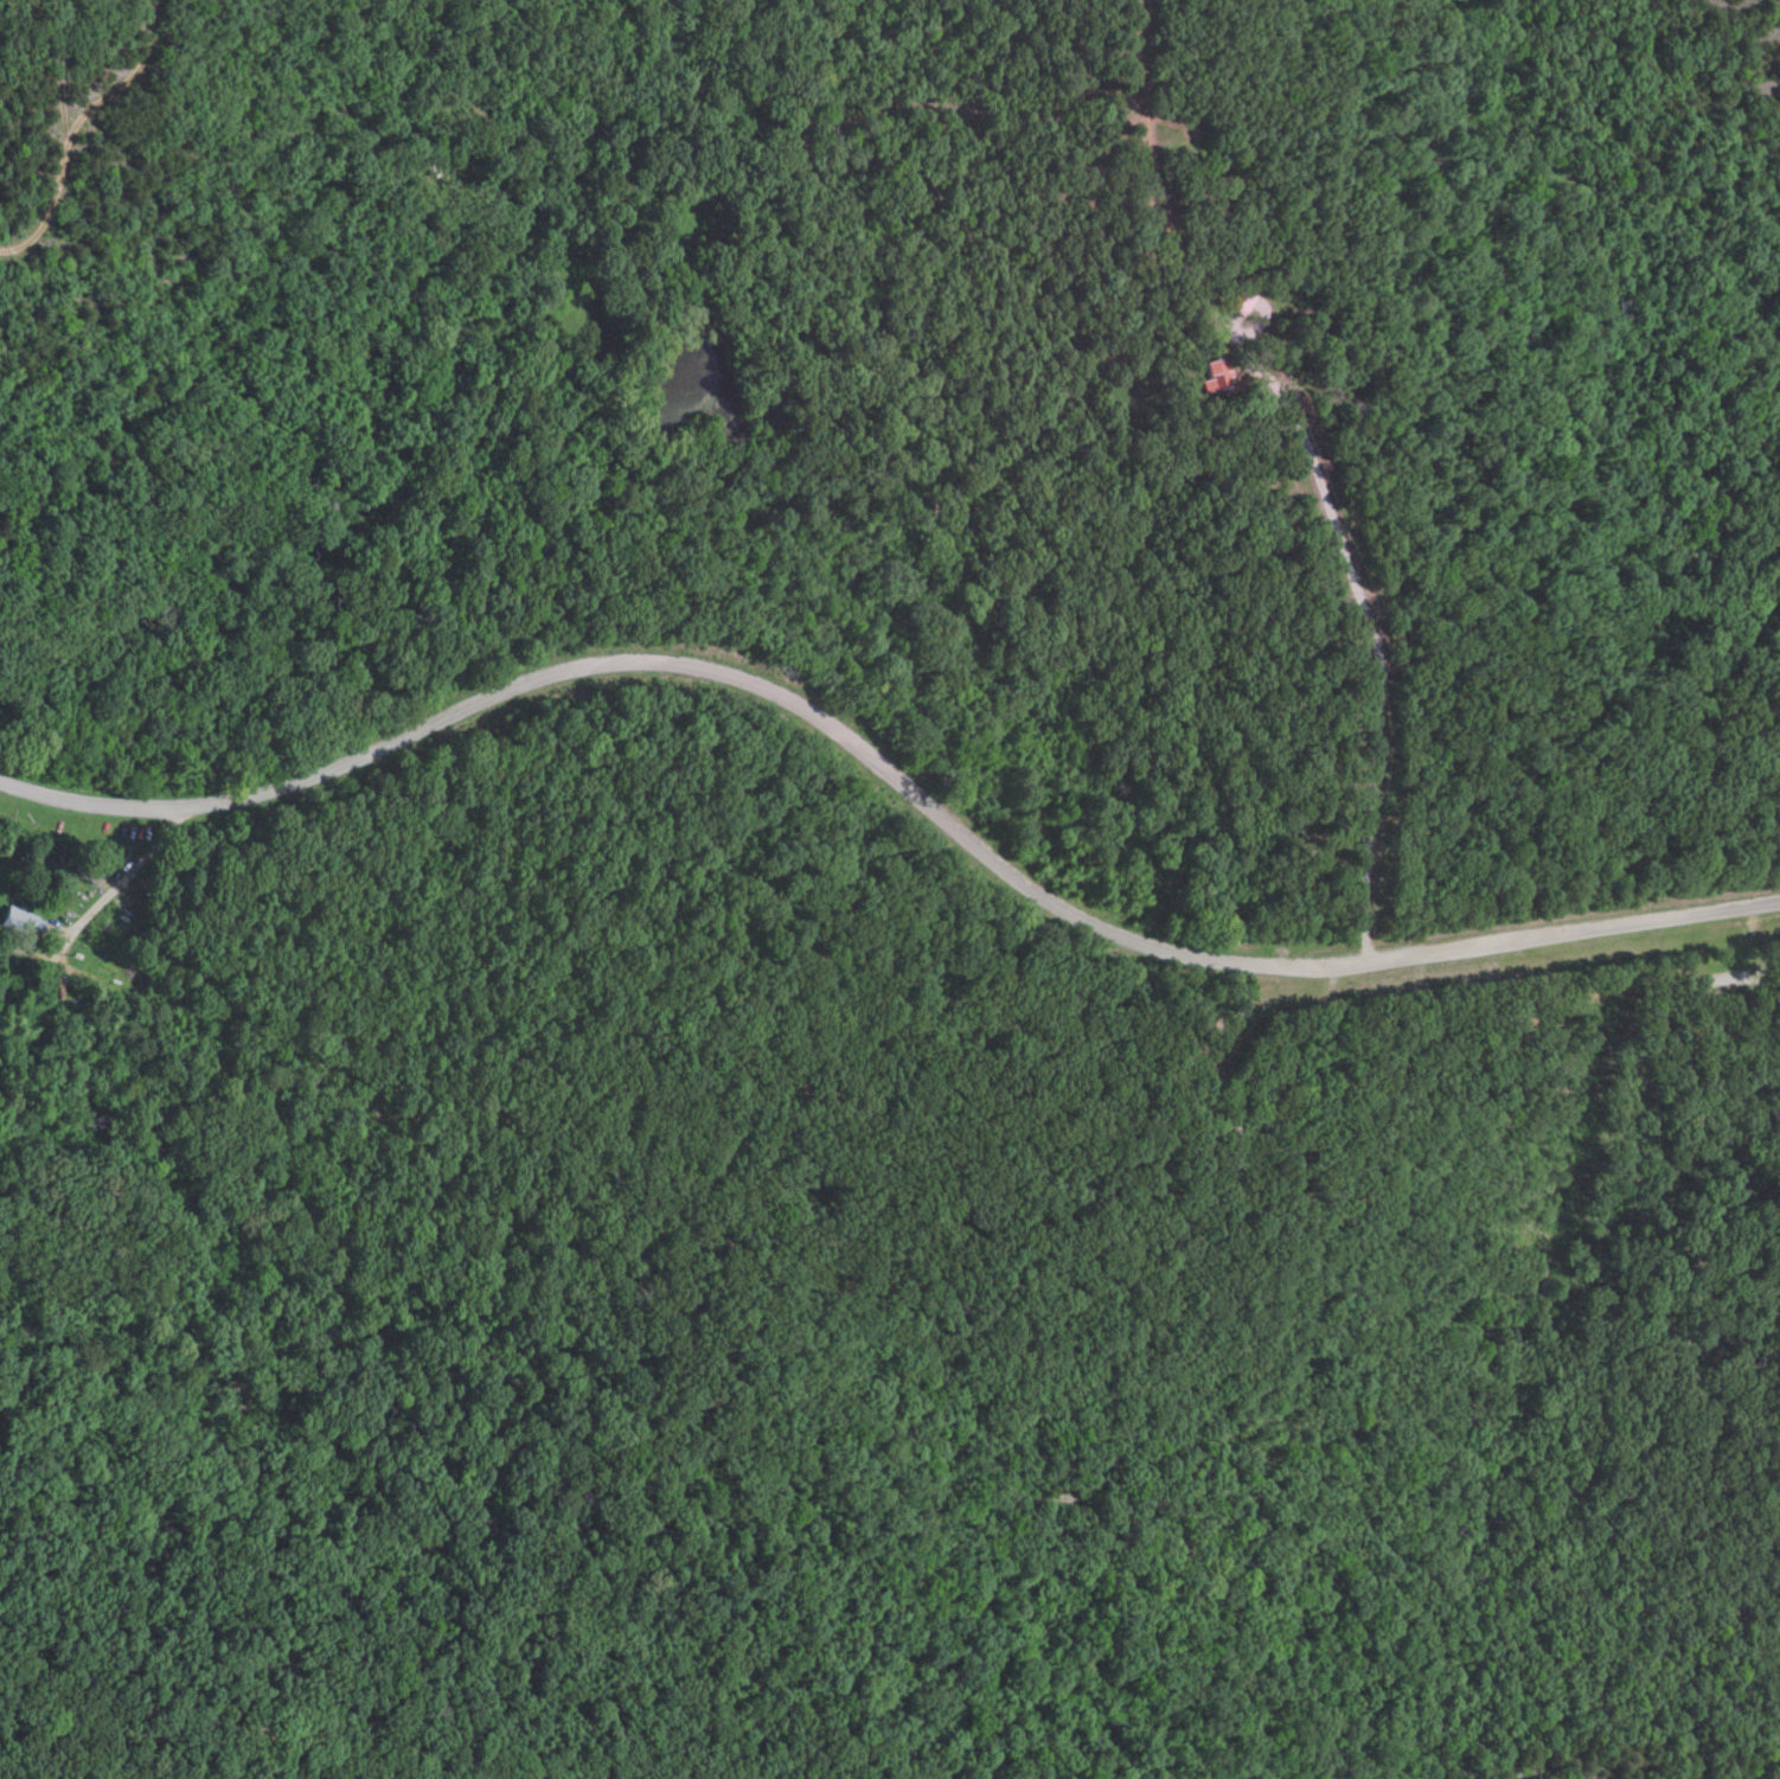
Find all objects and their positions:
building: (1204, 377)
road: (1374, 628)
road: (891, 763)
road: (128, 853)

